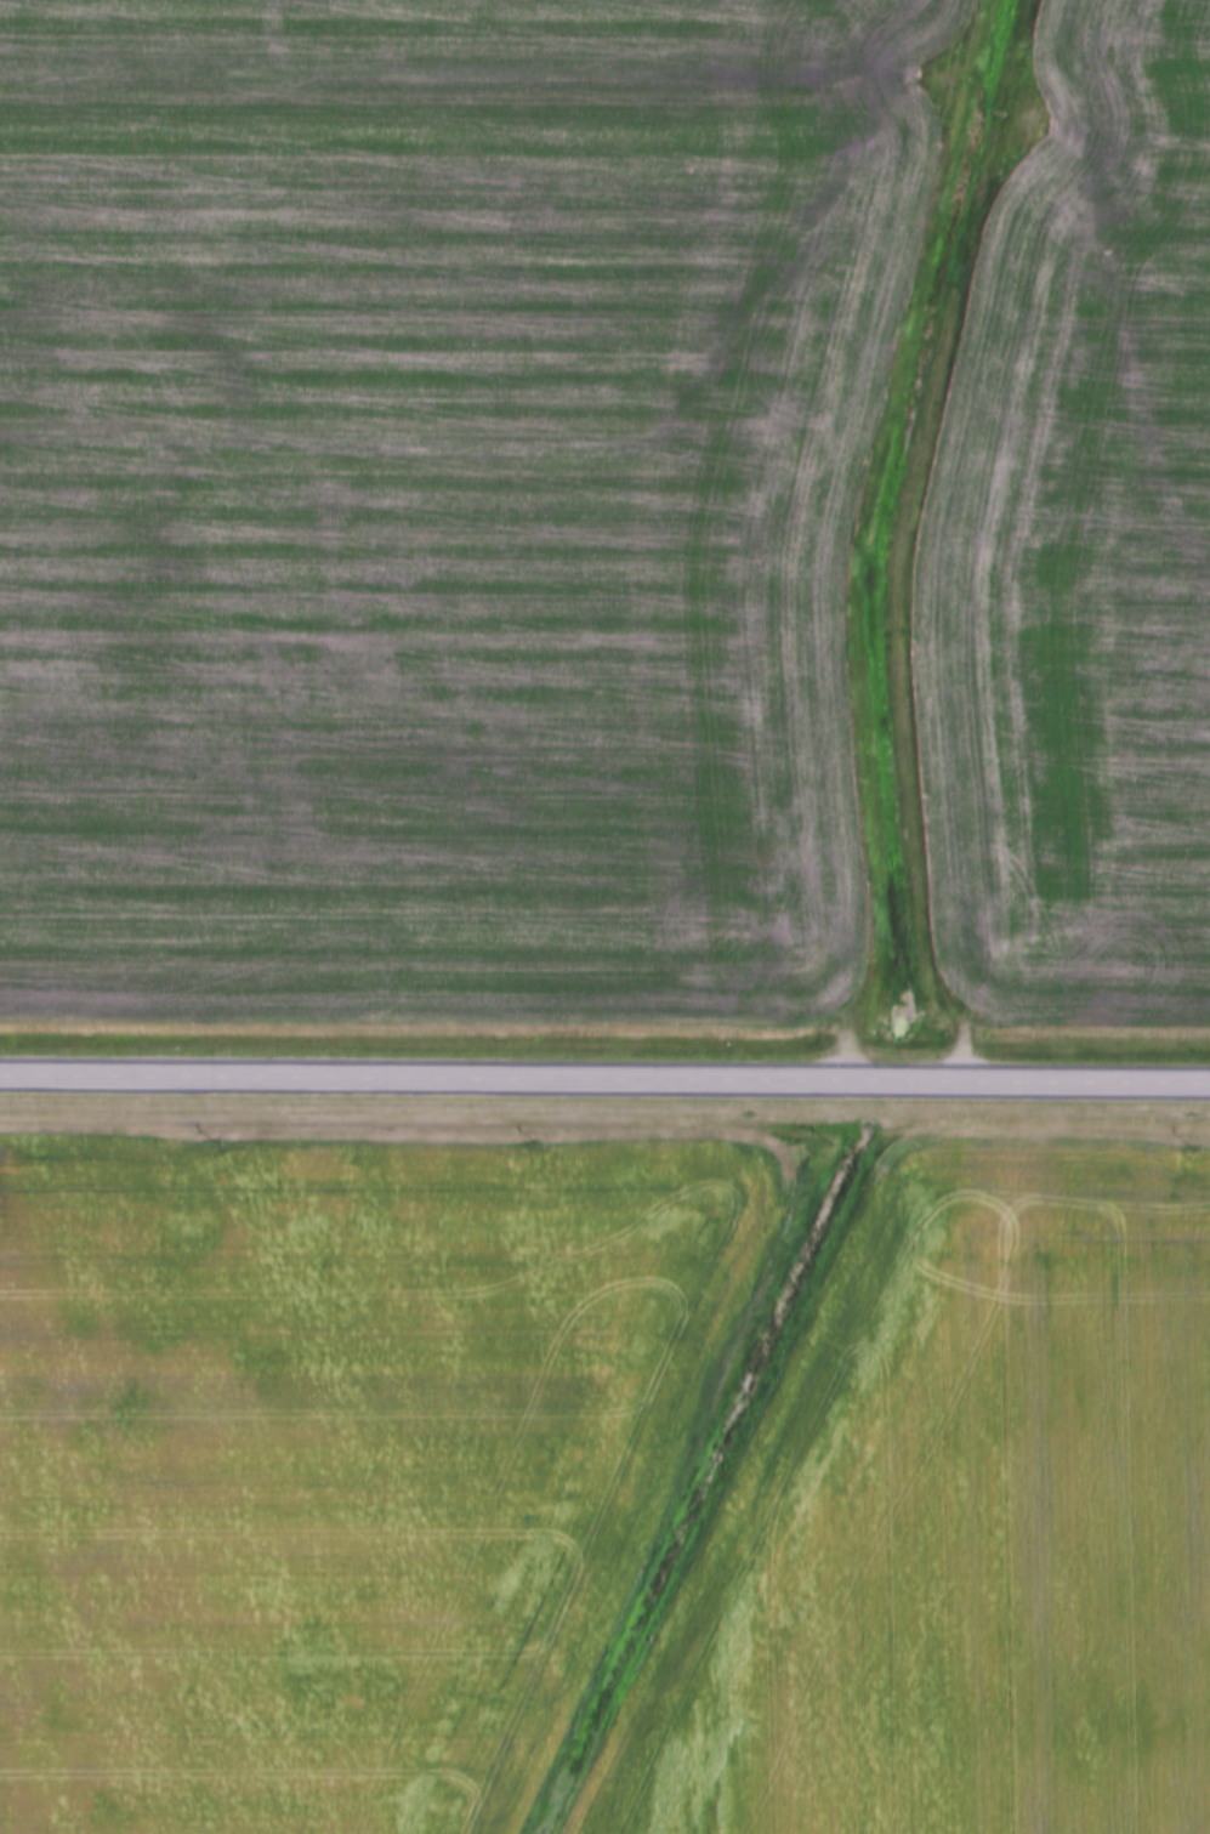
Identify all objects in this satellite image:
crop: (443, 496)
crop: (1081, 547)
road: (604, 1081)
crop: (339, 1460)
crop: (958, 1527)

